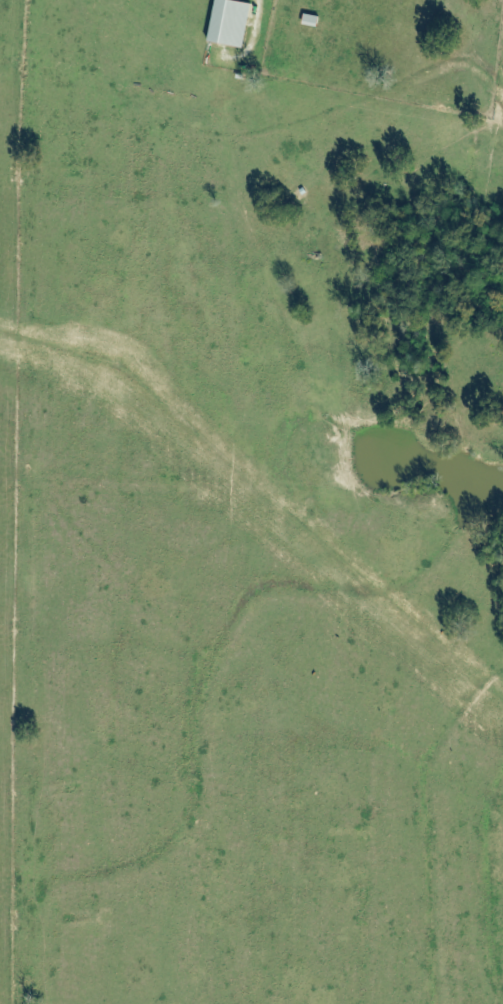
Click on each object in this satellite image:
building: (230, 24)

